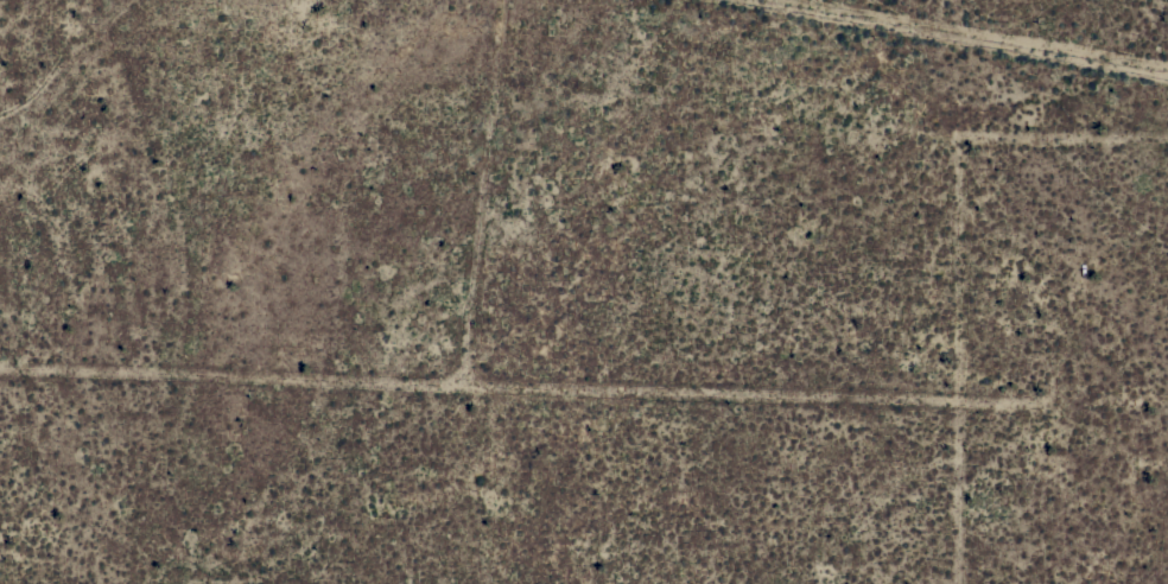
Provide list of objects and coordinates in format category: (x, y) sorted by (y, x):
road: (966, 36)

